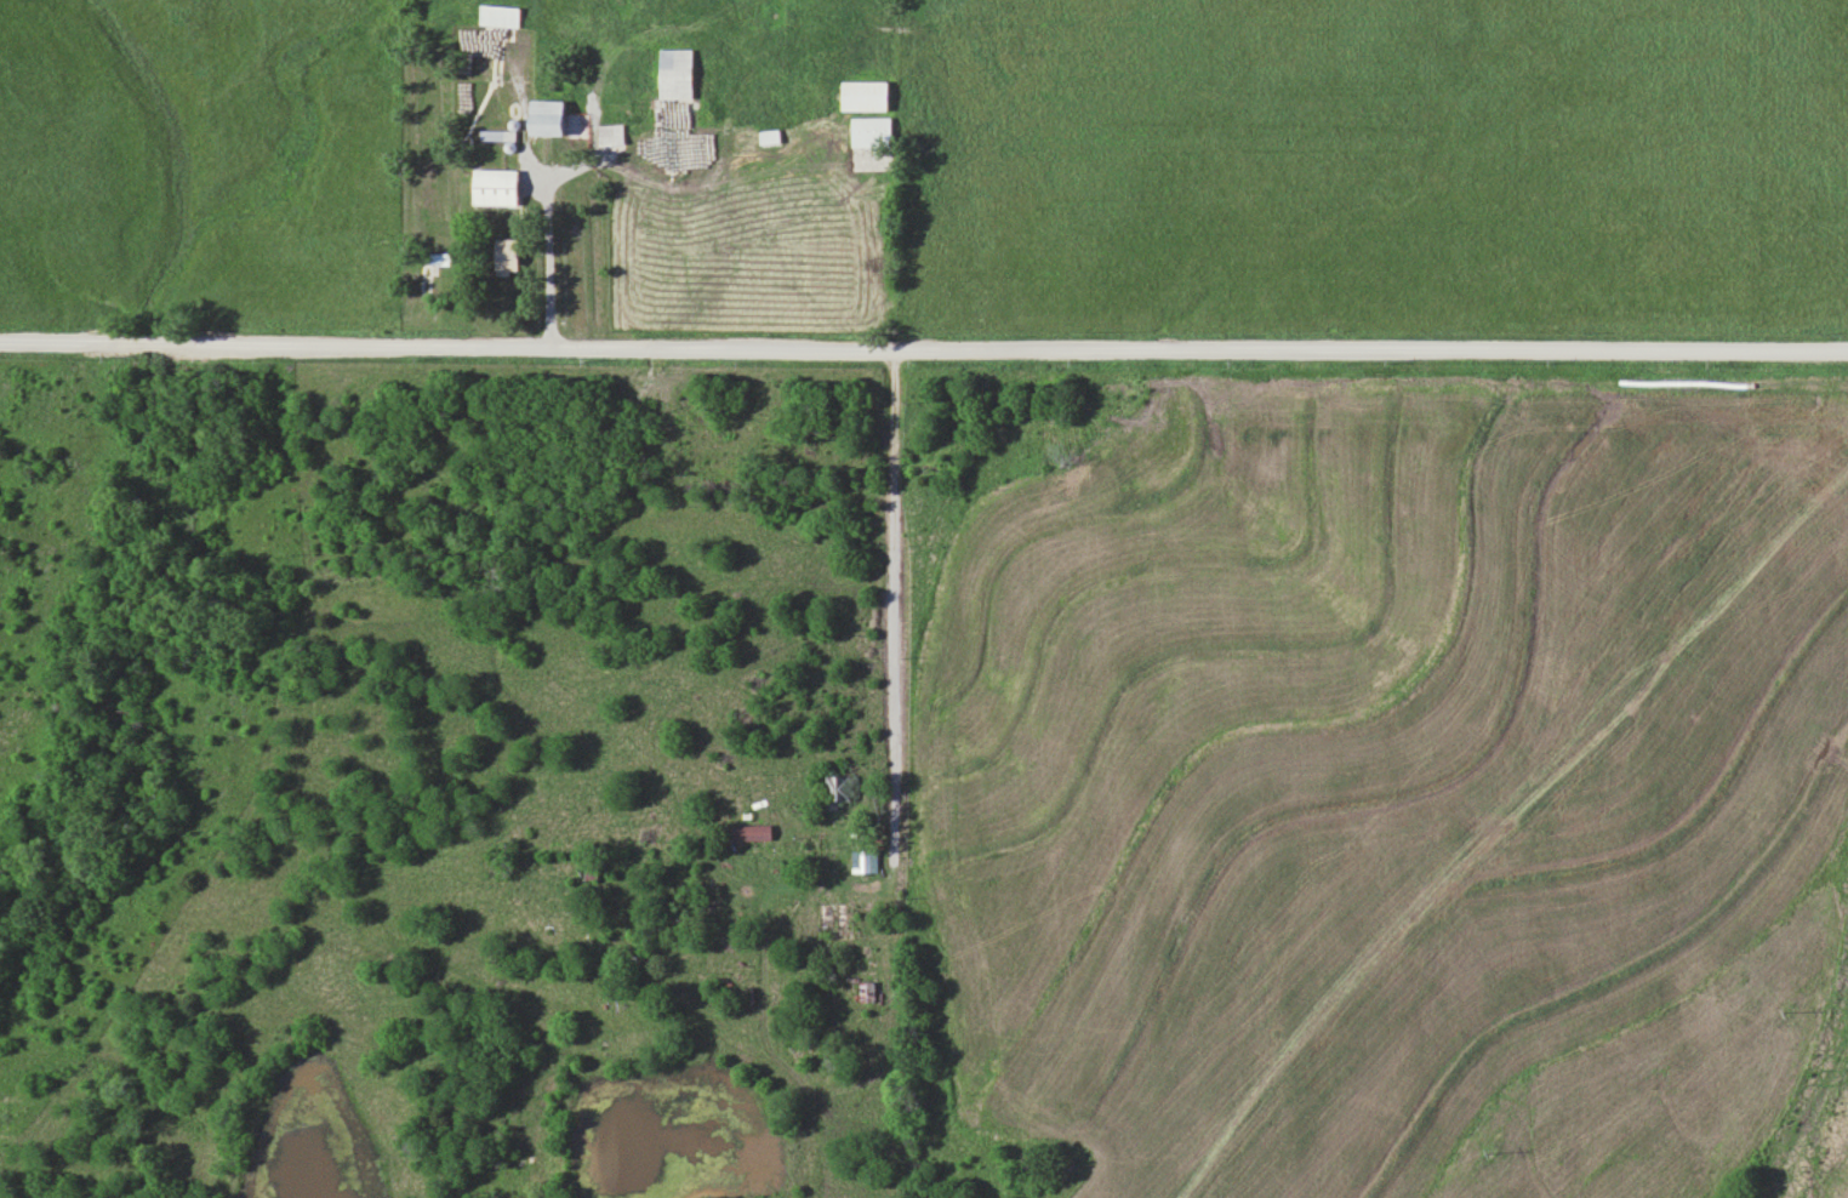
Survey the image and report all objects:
building: (496, 17)
building: (672, 74)
building: (860, 96)
building: (541, 119)
building: (868, 132)
building: (494, 136)
building: (608, 136)
building: (766, 136)
building: (489, 187)
building: (500, 256)
road: (541, 264)
road: (923, 350)
road: (889, 644)
building: (840, 788)
building: (747, 832)
building: (861, 860)
building: (865, 992)

